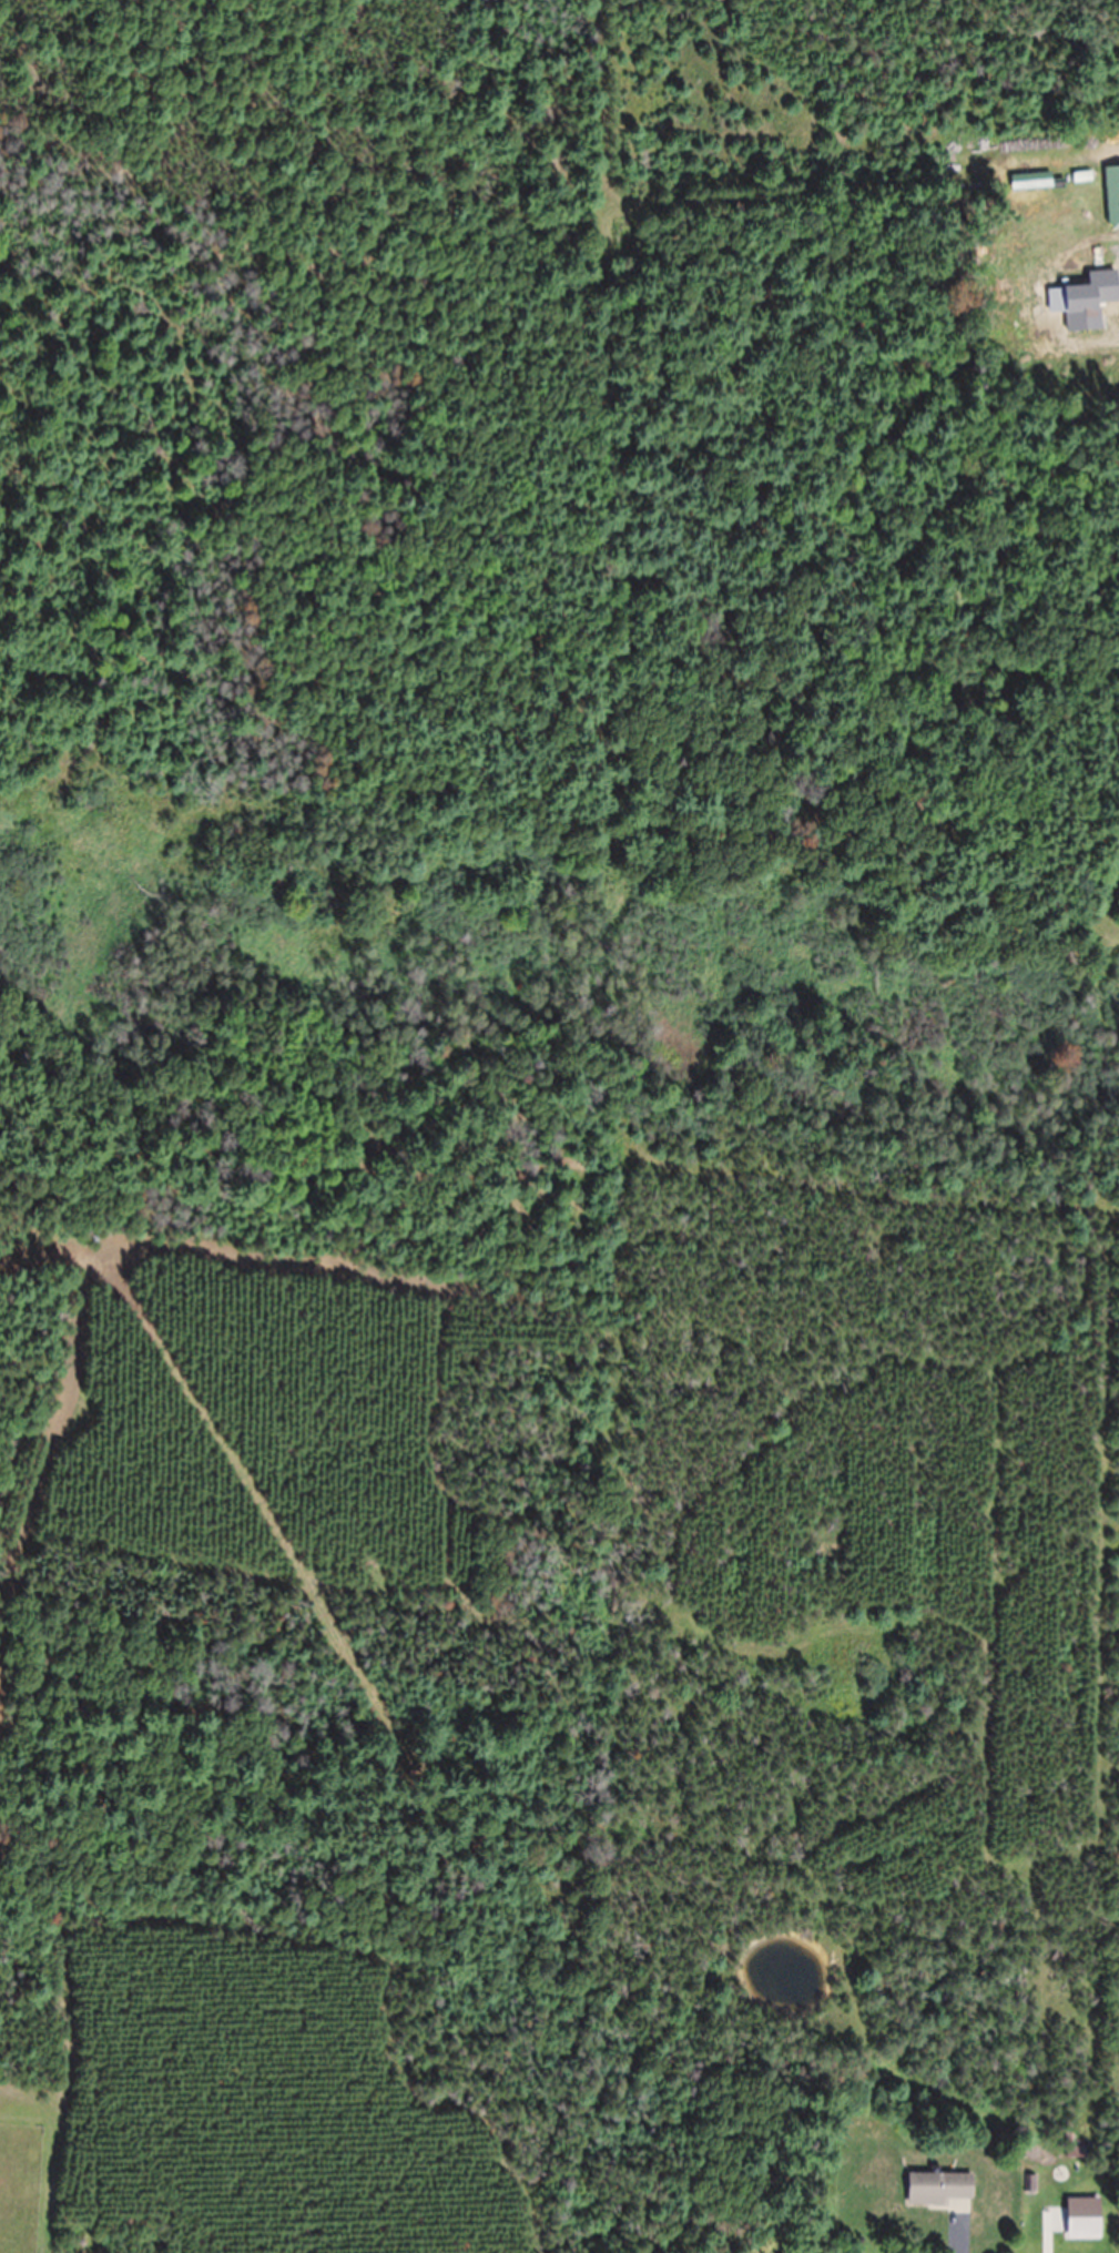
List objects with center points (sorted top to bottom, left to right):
building: (1112, 195)
building: (938, 2188)
road: (959, 2240)

